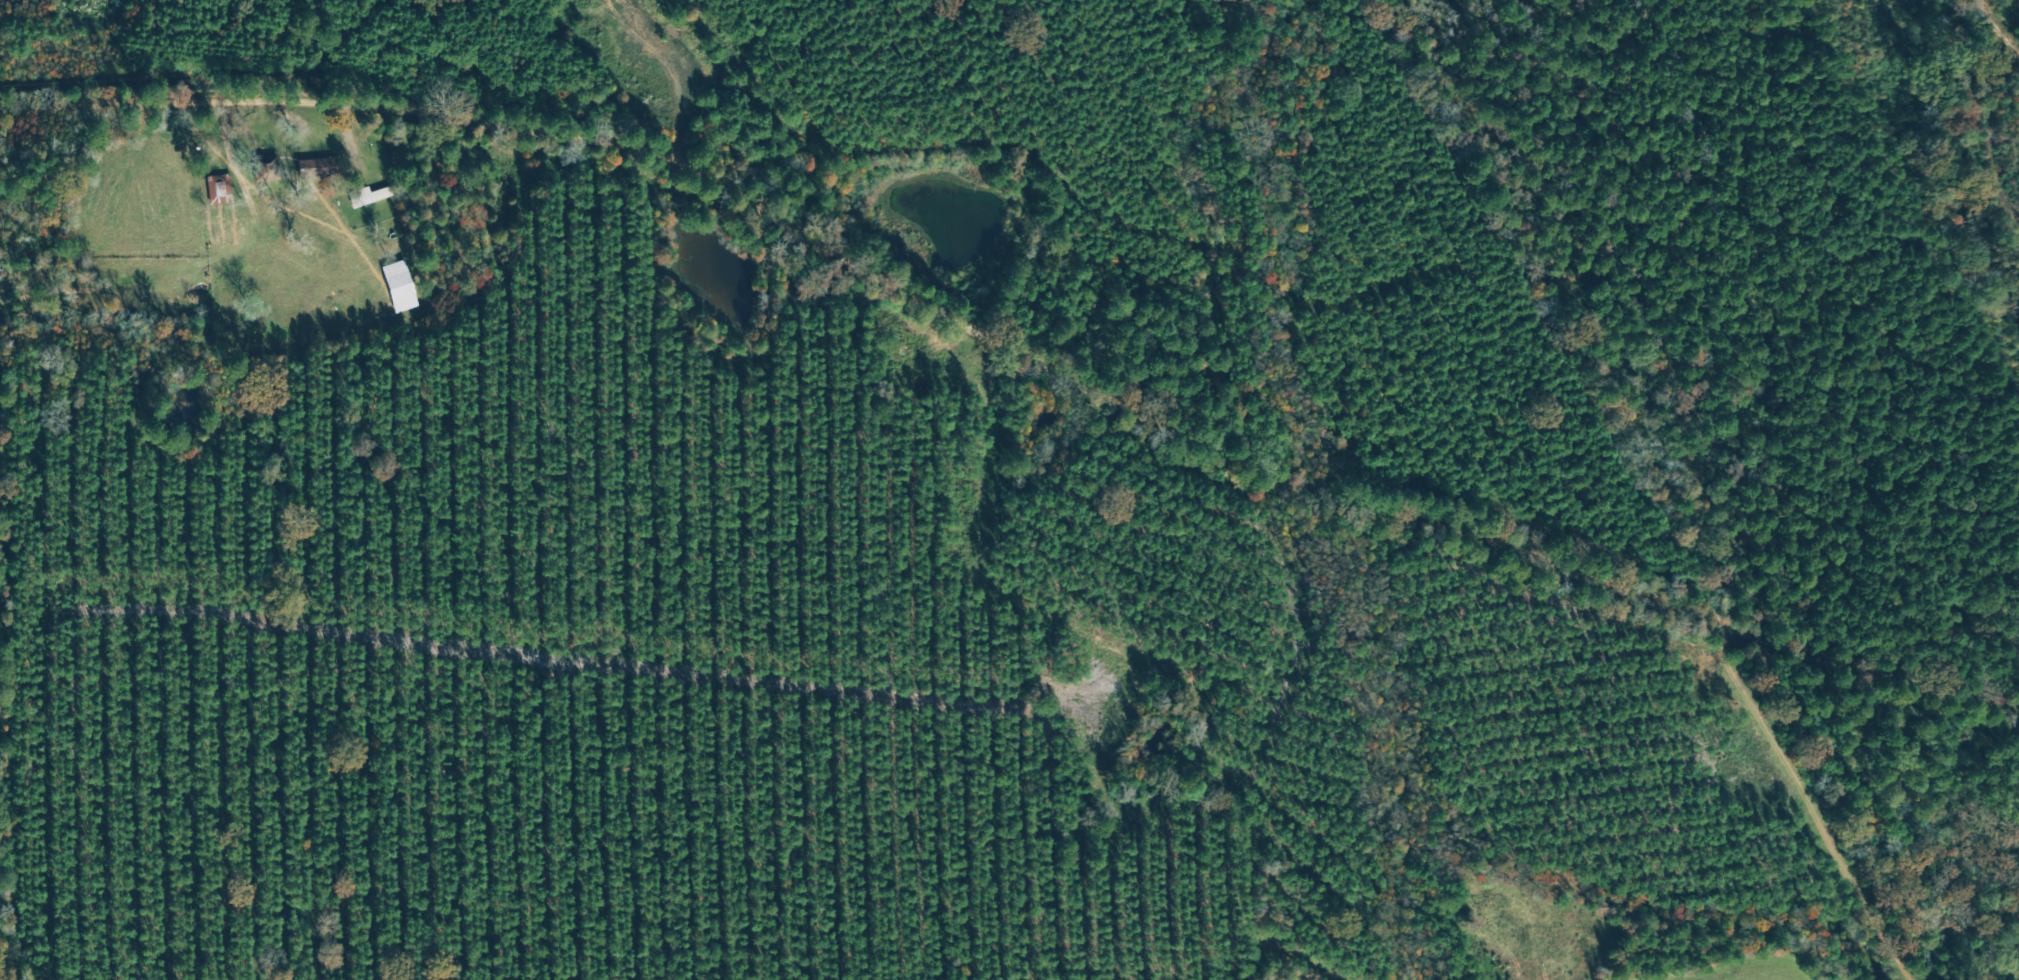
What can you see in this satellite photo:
building: (321, 167)
building: (222, 188)
building: (371, 196)
building: (403, 286)
road: (1011, 363)

